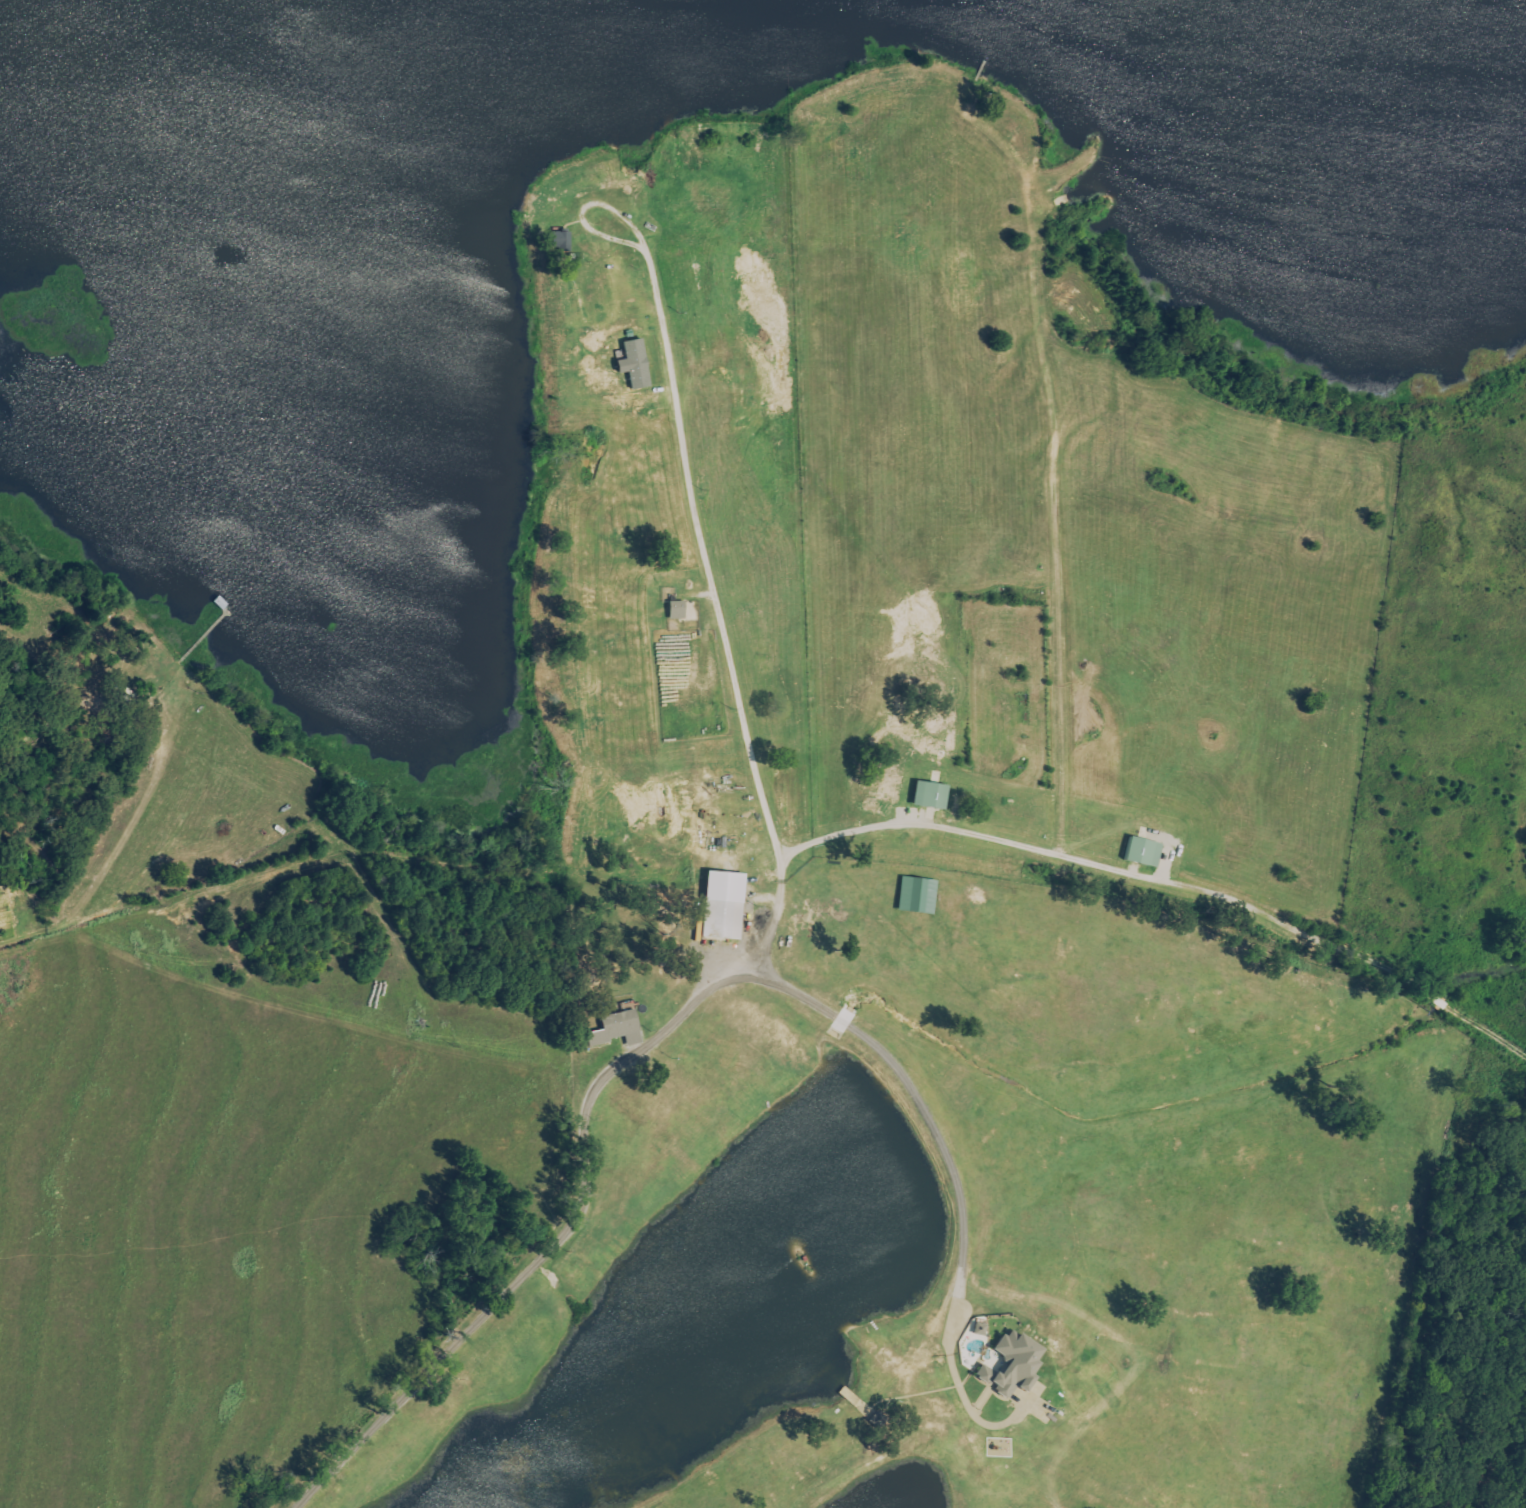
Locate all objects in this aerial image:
road: (584, 213)
building: (637, 364)
building: (676, 609)
building: (931, 794)
building: (1143, 851)
road: (117, 895)
road: (1242, 902)
building: (724, 904)
road: (745, 962)
building: (618, 1028)
road: (955, 1181)
building: (1013, 1365)

